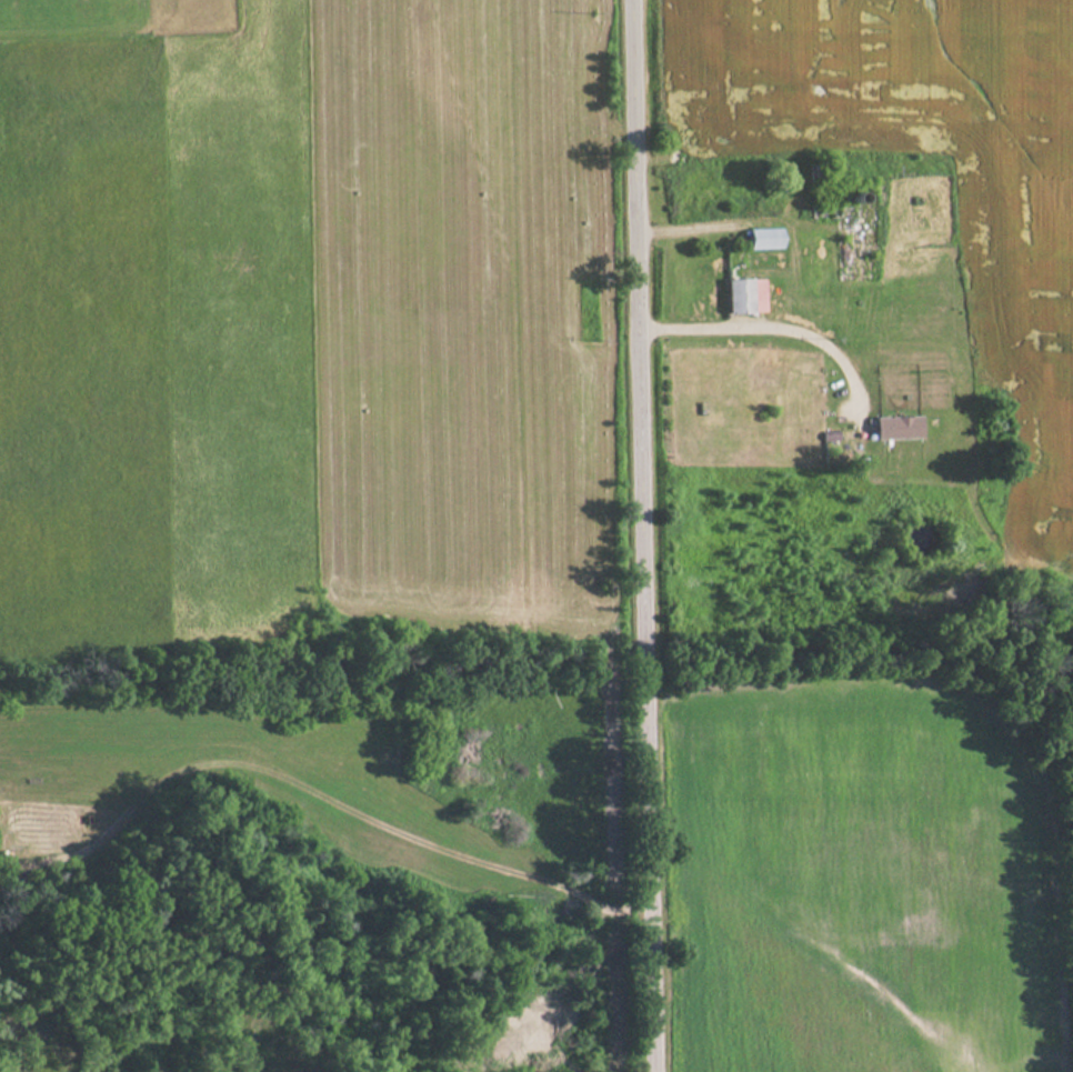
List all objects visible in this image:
building: (693, 197)
building: (824, 208)
building: (744, 295)
building: (896, 427)
road: (650, 535)

